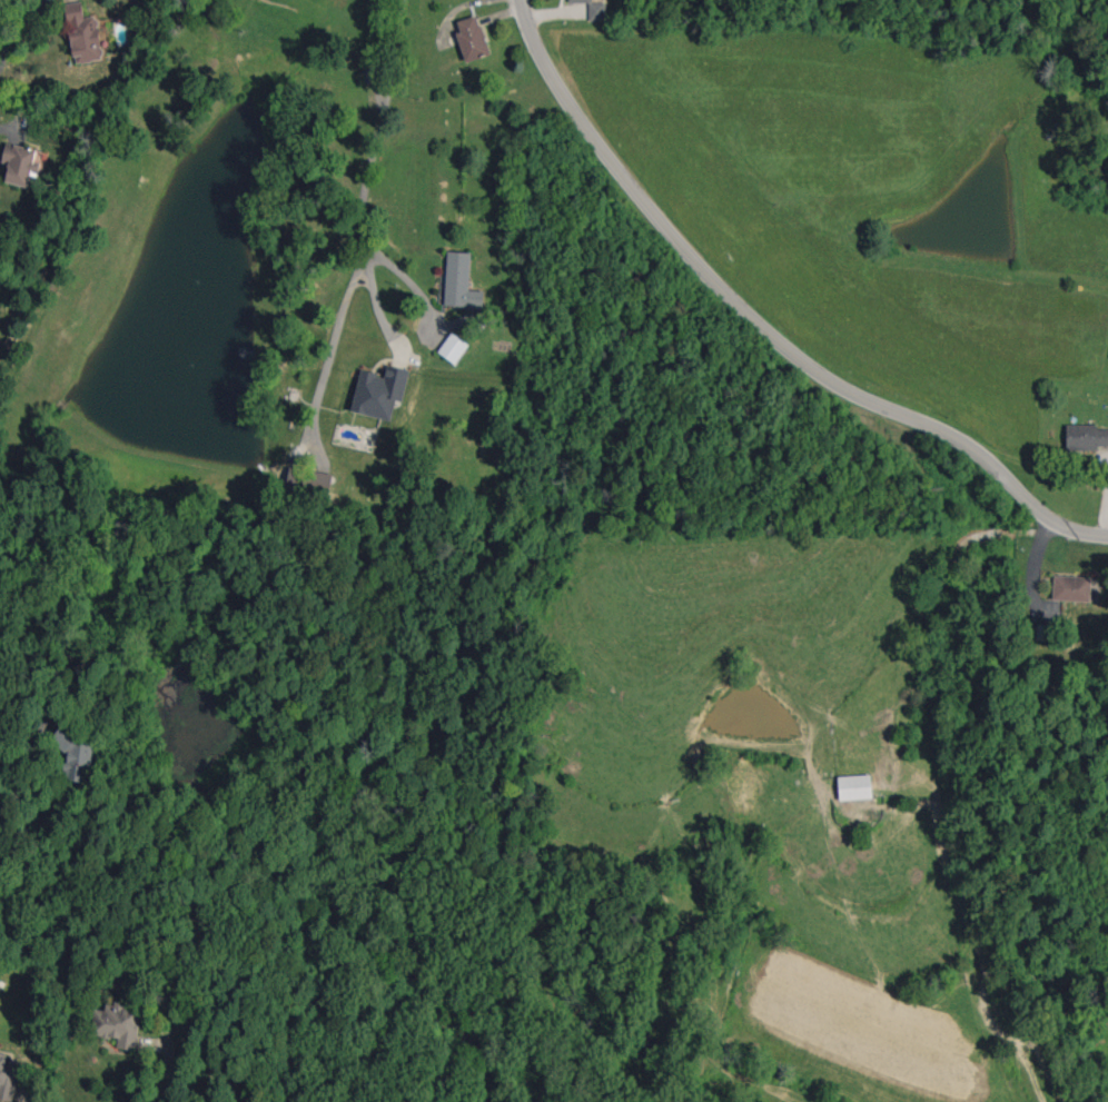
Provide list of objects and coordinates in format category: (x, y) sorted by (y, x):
building: (594, 9)
road: (18, 26)
building: (83, 34)
building: (472, 38)
building: (373, 72)
road: (380, 123)
building: (19, 163)
building: (461, 282)
road: (762, 326)
road: (396, 339)
building: (453, 348)
building: (379, 391)
building: (1086, 437)
building: (307, 484)
road: (1036, 566)
building: (1071, 588)
building: (1043, 633)
road: (22, 714)
building: (75, 753)
building: (854, 787)
building: (118, 1024)
road: (169, 1066)
building: (7, 1079)

